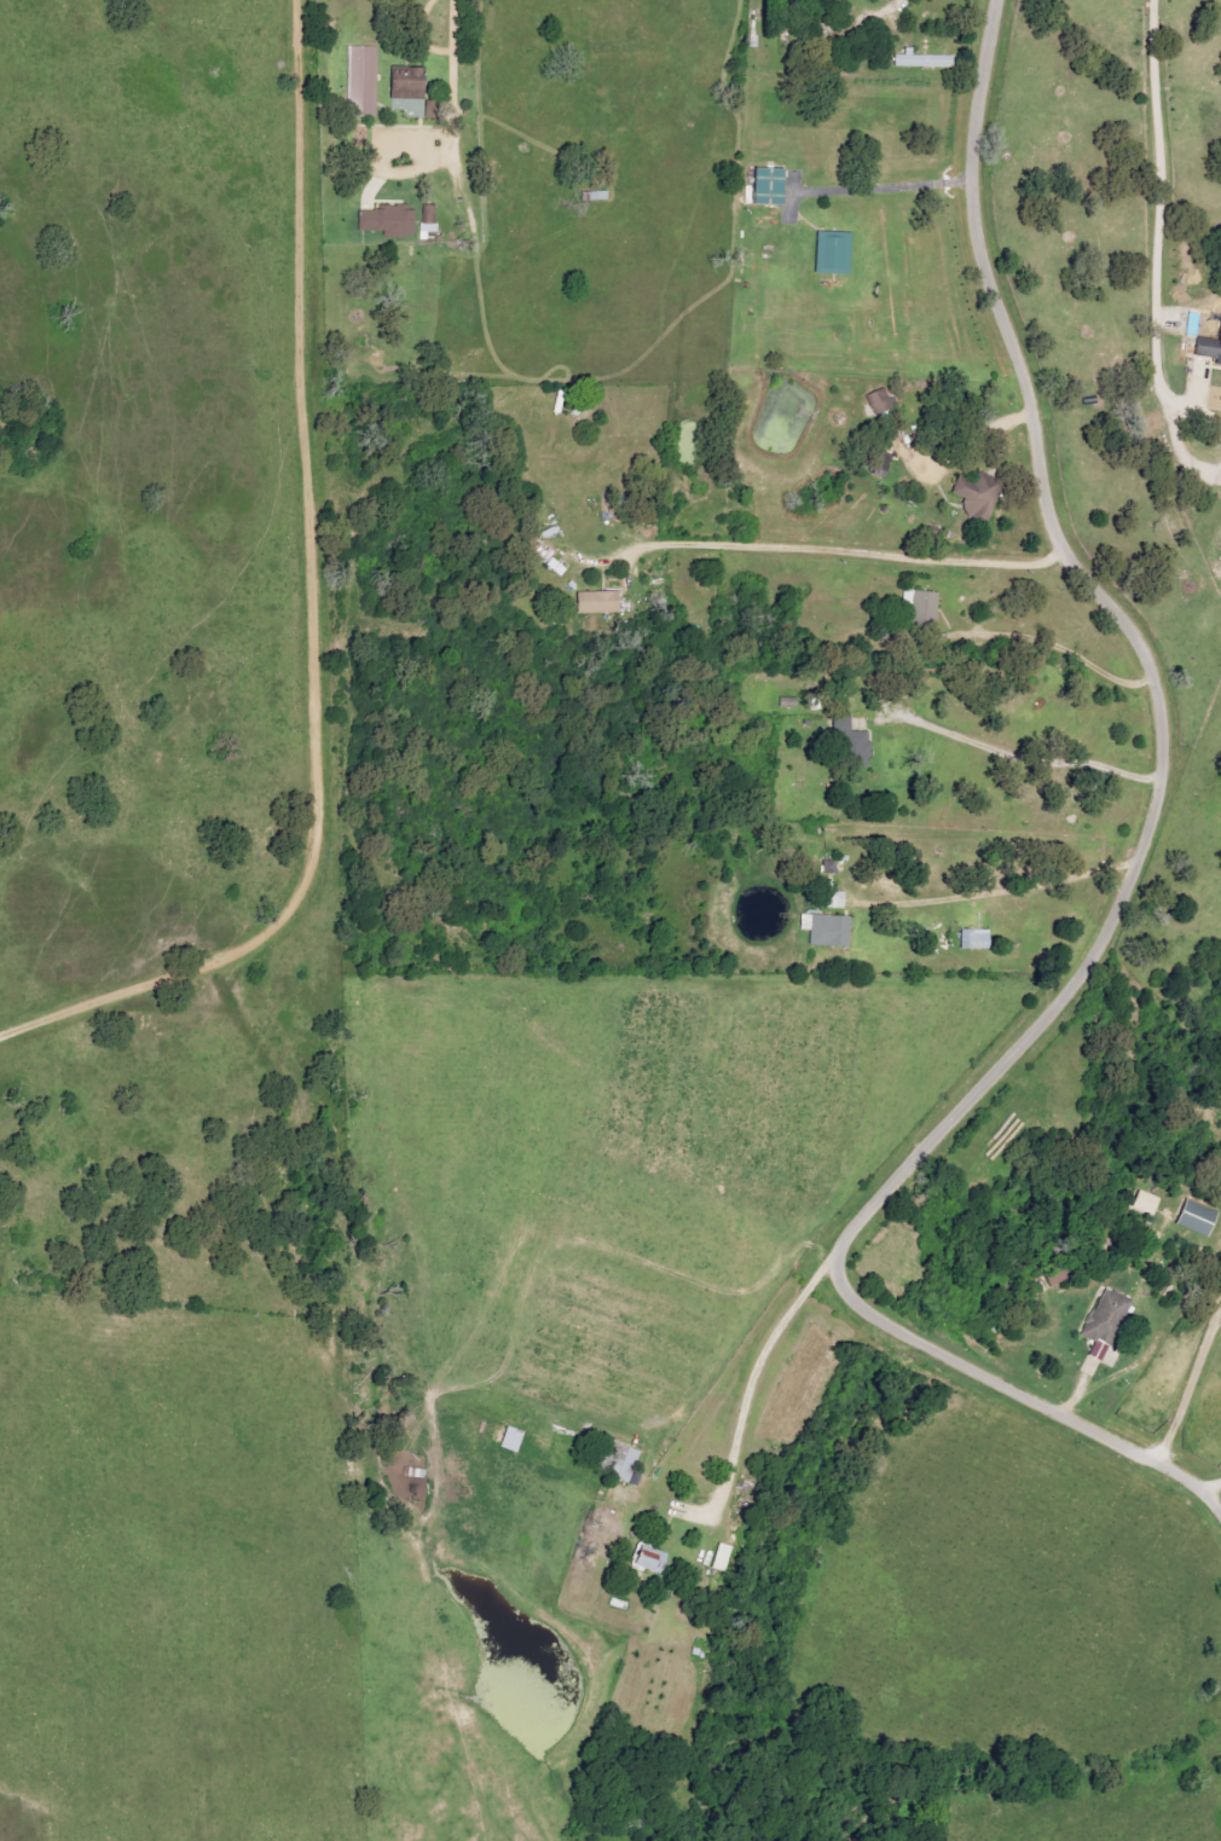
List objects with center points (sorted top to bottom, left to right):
road: (878, 7)
building: (921, 60)
road: (452, 71)
building: (359, 80)
building: (400, 85)
road: (885, 170)
building: (763, 185)
building: (427, 216)
building: (384, 220)
road: (1155, 230)
building: (829, 251)
building: (1206, 349)
building: (876, 400)
road: (1206, 417)
road: (967, 423)
road: (1182, 451)
building: (870, 459)
building: (972, 493)
road: (843, 550)
building: (552, 562)
building: (595, 602)
building: (921, 608)
building: (849, 742)
road: (1020, 742)
road: (993, 893)
road: (1112, 895)
building: (823, 930)
building: (971, 939)
building: (1141, 1203)
building: (1192, 1218)
building: (1109, 1318)
road: (746, 1374)
road: (1185, 1376)
building: (515, 1438)
building: (620, 1459)
road: (1208, 1476)
building: (724, 1556)
building: (652, 1561)

